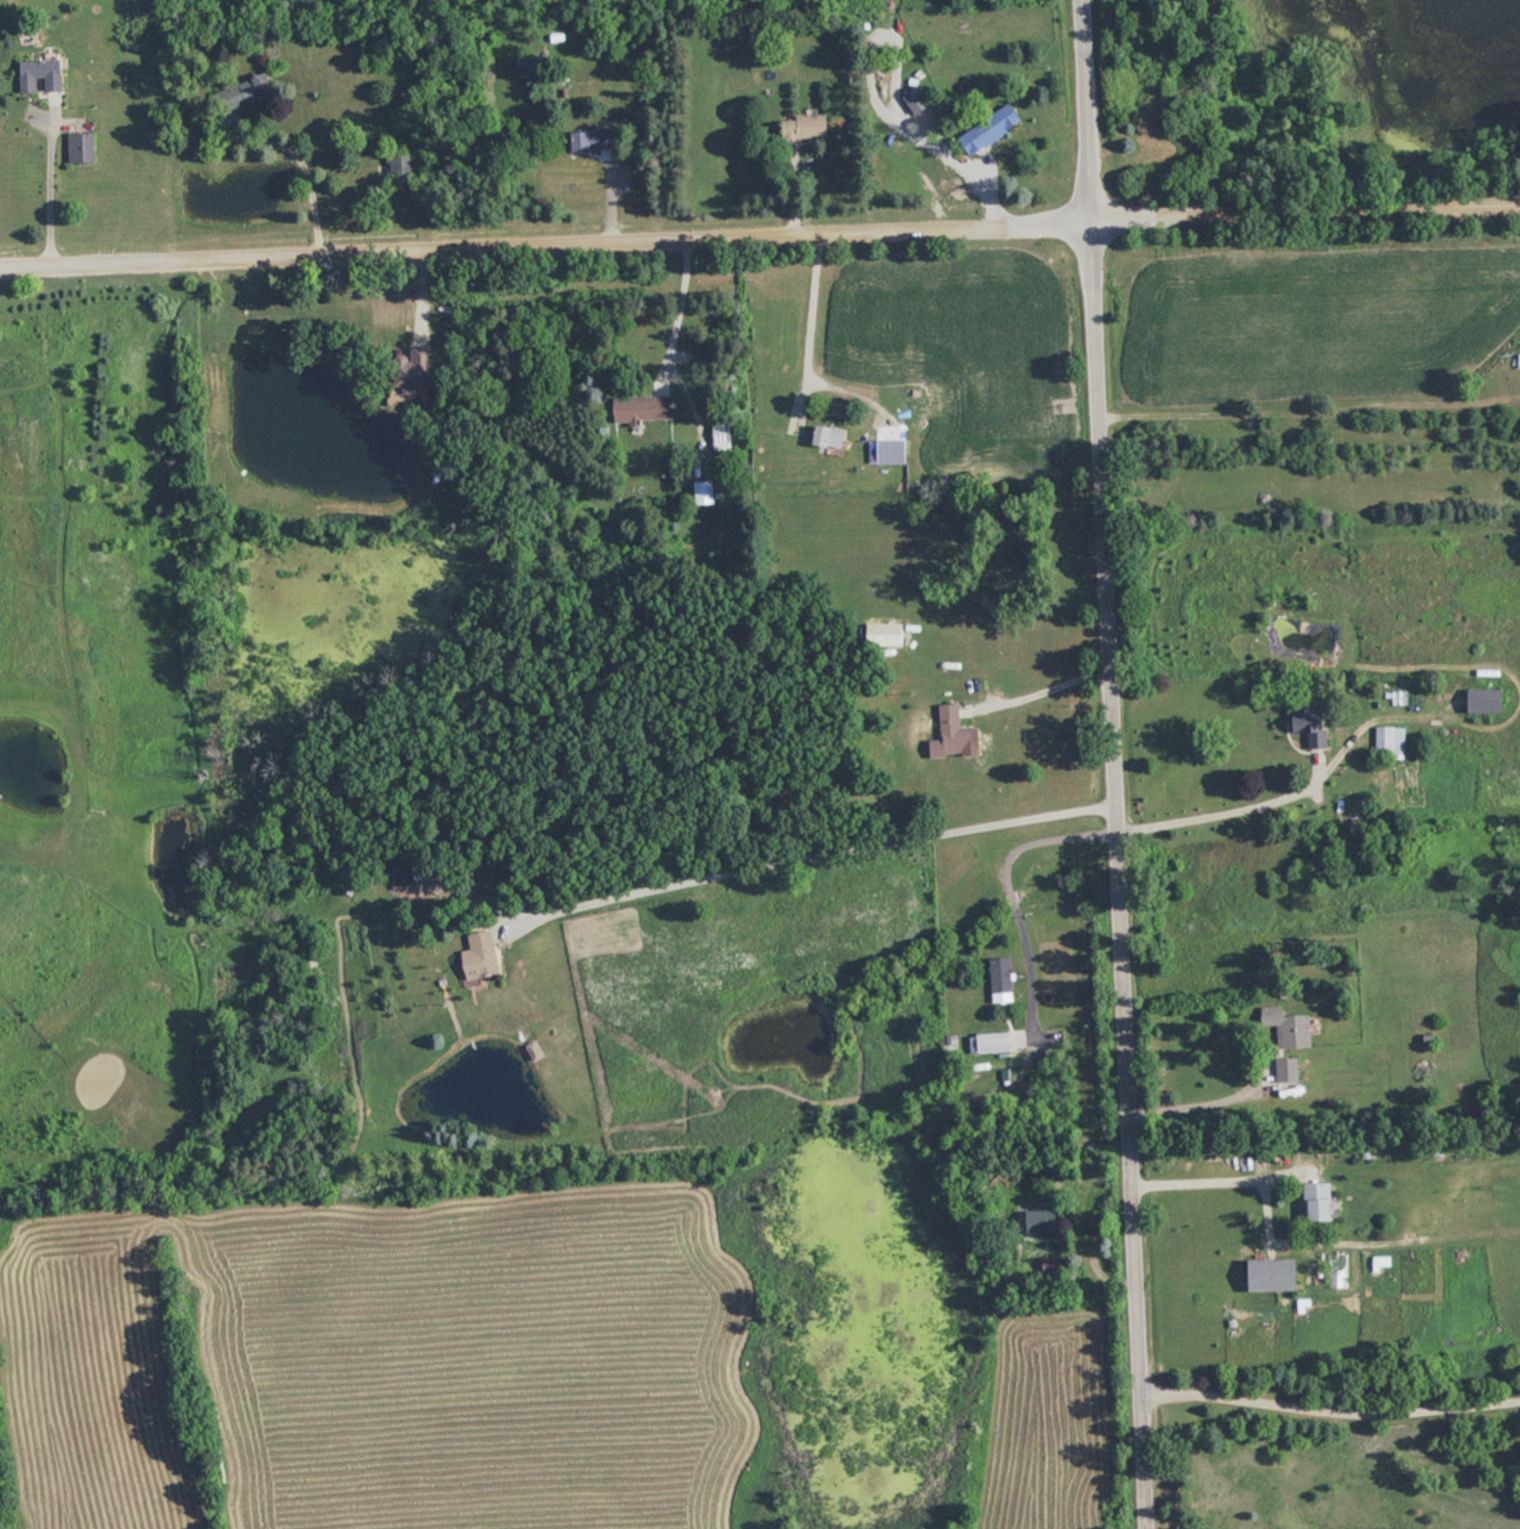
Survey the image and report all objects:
building: (532, 65)
building: (42, 75)
building: (247, 92)
building: (918, 100)
building: (804, 127)
building: (991, 128)
building: (597, 139)
building: (83, 148)
building: (398, 167)
road: (52, 182)
road: (759, 225)
road: (683, 292)
road: (813, 307)
building: (1519, 360)
building: (418, 367)
building: (645, 408)
building: (832, 437)
building: (705, 492)
building: (885, 634)
road: (1052, 678)
building: (1488, 699)
building: (1311, 721)
building: (954, 734)
building: (1392, 738)
road: (1115, 764)
road: (1220, 809)
road: (824, 857)
building: (399, 874)
road: (1003, 883)
building: (483, 956)
building: (1289, 1029)
building: (997, 1041)
building: (1287, 1069)
road: (1192, 1094)
road: (1201, 1179)
building: (1321, 1201)
building: (1044, 1221)
building: (1278, 1275)
road: (1330, 1409)

